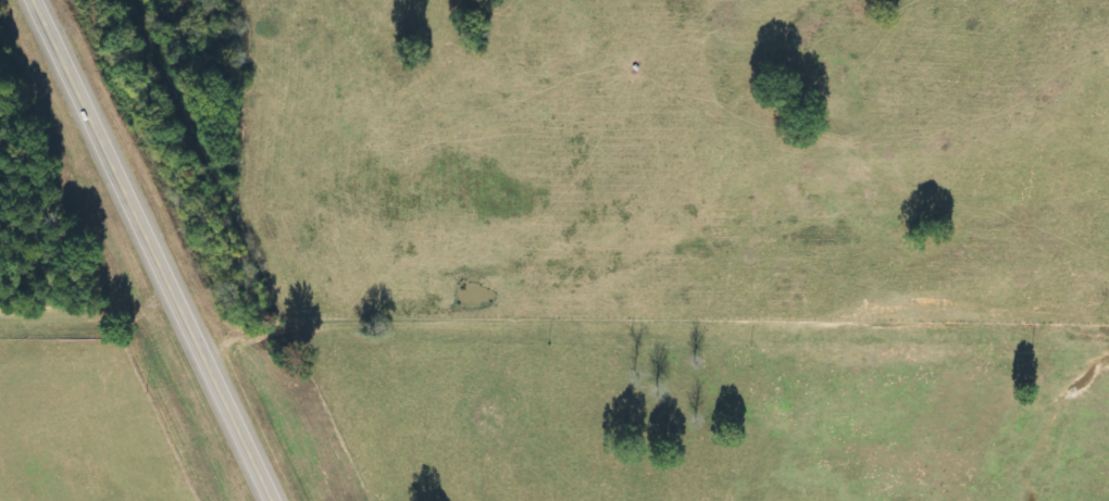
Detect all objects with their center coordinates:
road: (153, 250)
road: (650, 320)

